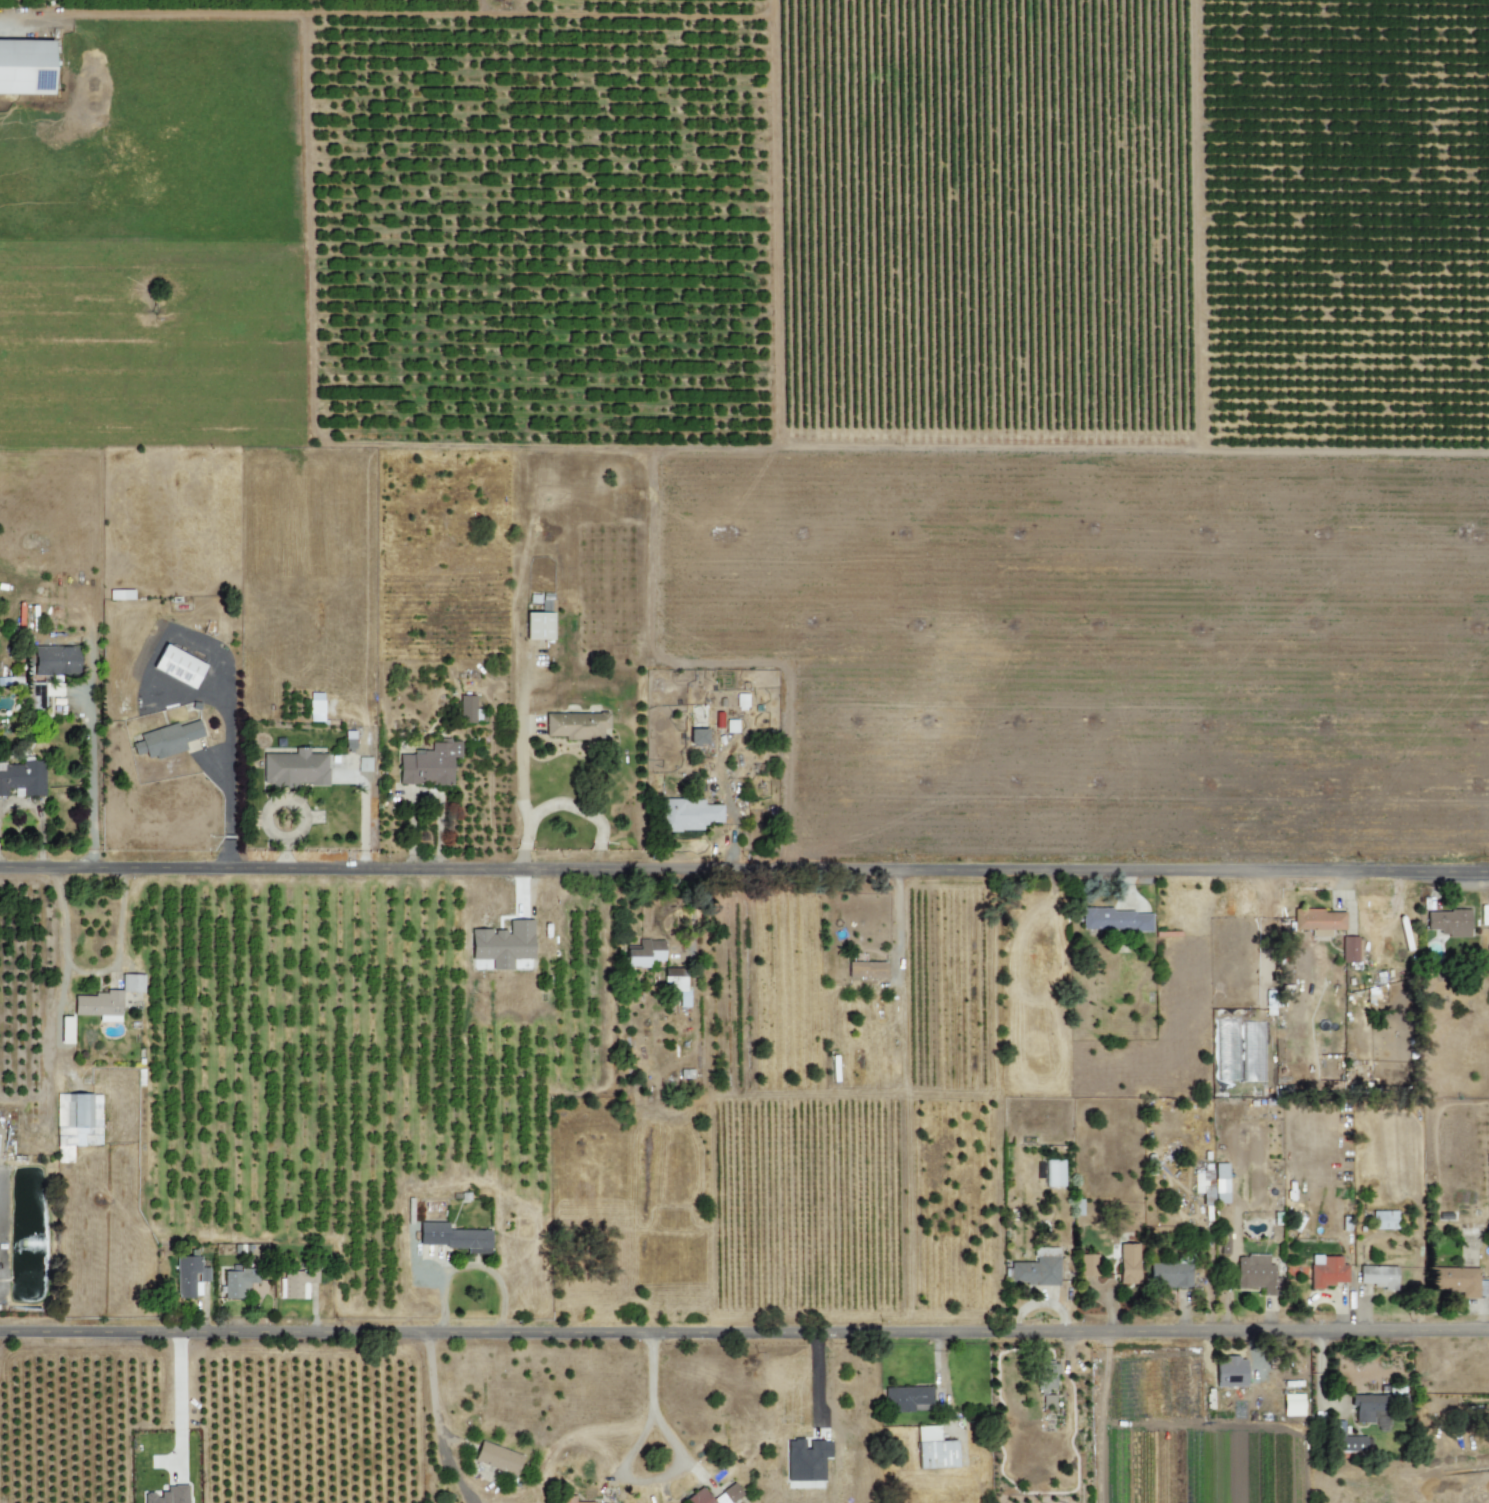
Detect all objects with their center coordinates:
building: (25, 66)
building: (539, 619)
building: (55, 660)
building: (178, 666)
building: (10, 681)
building: (42, 692)
building: (741, 701)
building: (315, 707)
building: (466, 709)
building: (576, 725)
building: (731, 726)
building: (697, 736)
building: (166, 739)
building: (349, 741)
building: (363, 764)
building: (429, 764)
building: (294, 768)
road: (89, 771)
building: (23, 778)
road: (227, 806)
road: (523, 806)
road: (584, 810)
road: (362, 814)
building: (687, 814)
road: (41, 817)
road: (744, 870)
road: (897, 920)
building: (1115, 920)
building: (1318, 921)
building: (1448, 922)
building: (502, 944)
building: (1350, 949)
building: (644, 953)
building: (866, 969)
road: (86, 975)
building: (131, 983)
building: (677, 983)
building: (99, 1005)
building: (93, 1119)
building: (1053, 1173)
building: (1203, 1182)
building: (1220, 1183)
building: (1383, 1220)
building: (453, 1237)
building: (1128, 1263)
building: (1088, 1265)
building: (1036, 1268)
building: (1327, 1271)
building: (1169, 1274)
building: (1255, 1274)
building: (189, 1276)
building: (1377, 1276)
building: (237, 1282)
building: (296, 1282)
building: (1465, 1283)
road: (744, 1333)
building: (1229, 1372)
road: (653, 1376)
road: (815, 1382)
building: (1047, 1385)
building: (908, 1399)
road: (174, 1400)
building: (1292, 1404)
building: (1365, 1406)
road: (434, 1420)
building: (1352, 1443)
building: (934, 1449)
road: (550, 1450)
building: (496, 1458)
building: (806, 1459)
road: (644, 1480)
building: (730, 1491)
building: (167, 1495)
building: (566, 1499)

